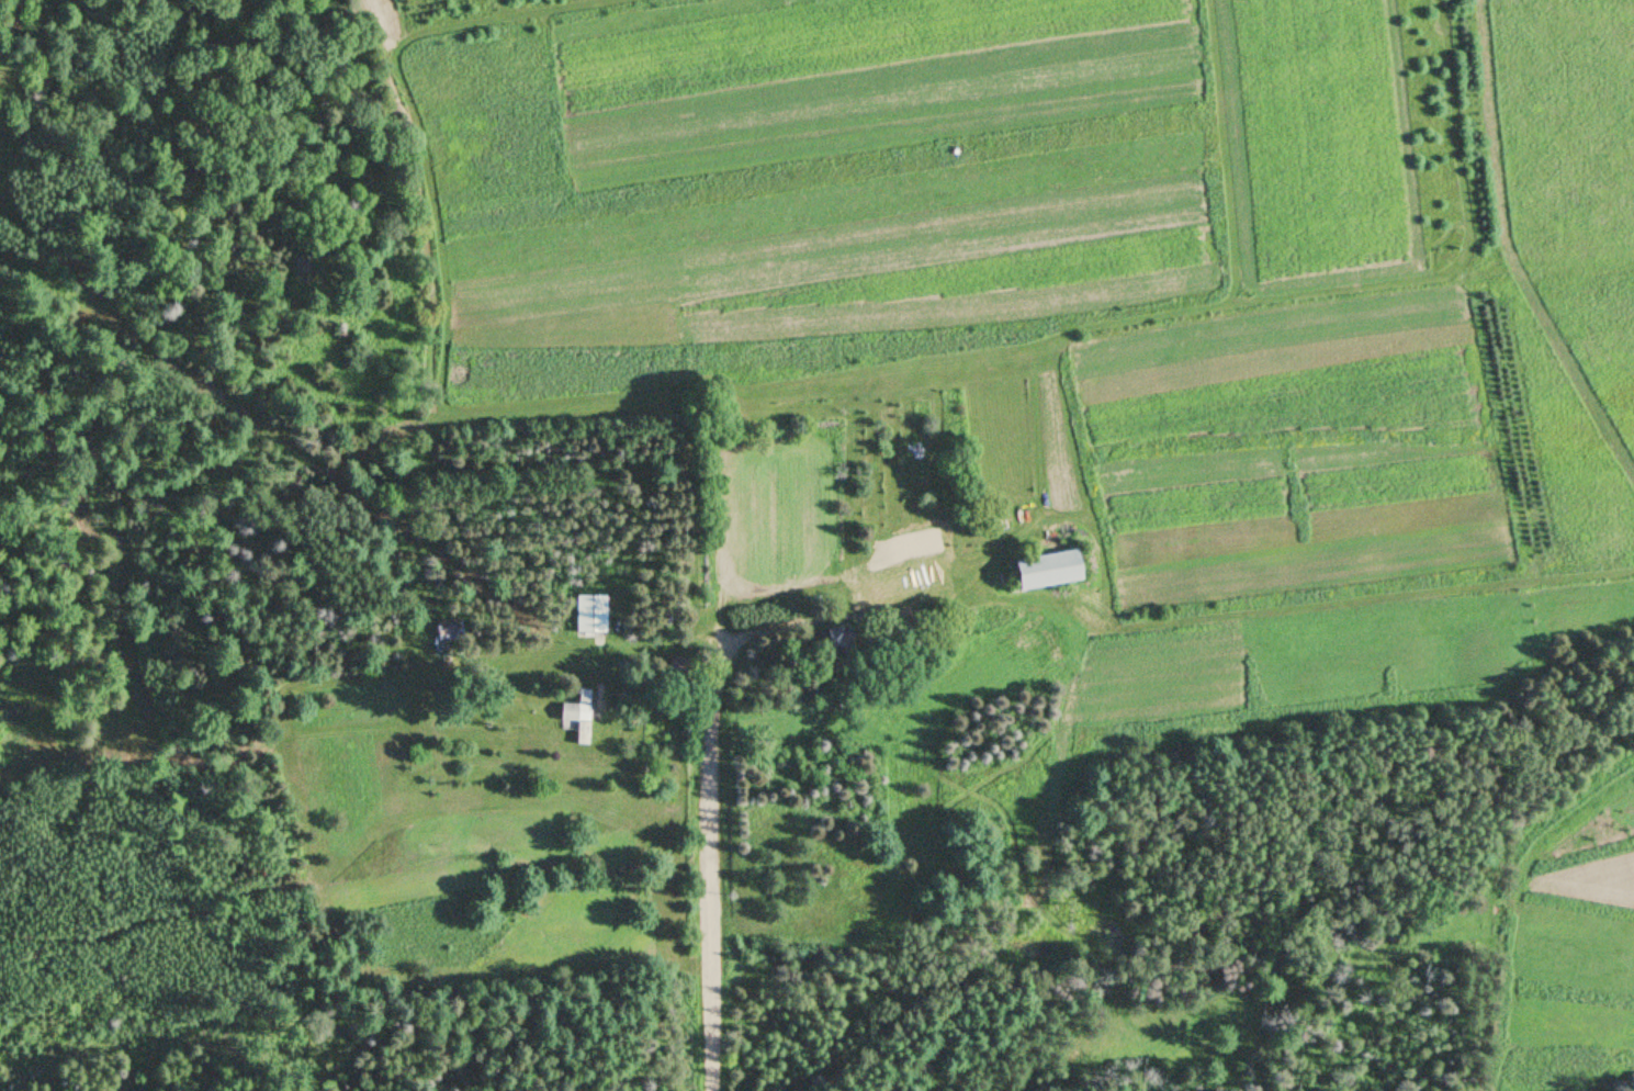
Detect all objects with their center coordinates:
building: (1041, 573)
building: (901, 593)
building: (588, 616)
building: (443, 632)
building: (576, 717)
road: (713, 834)

